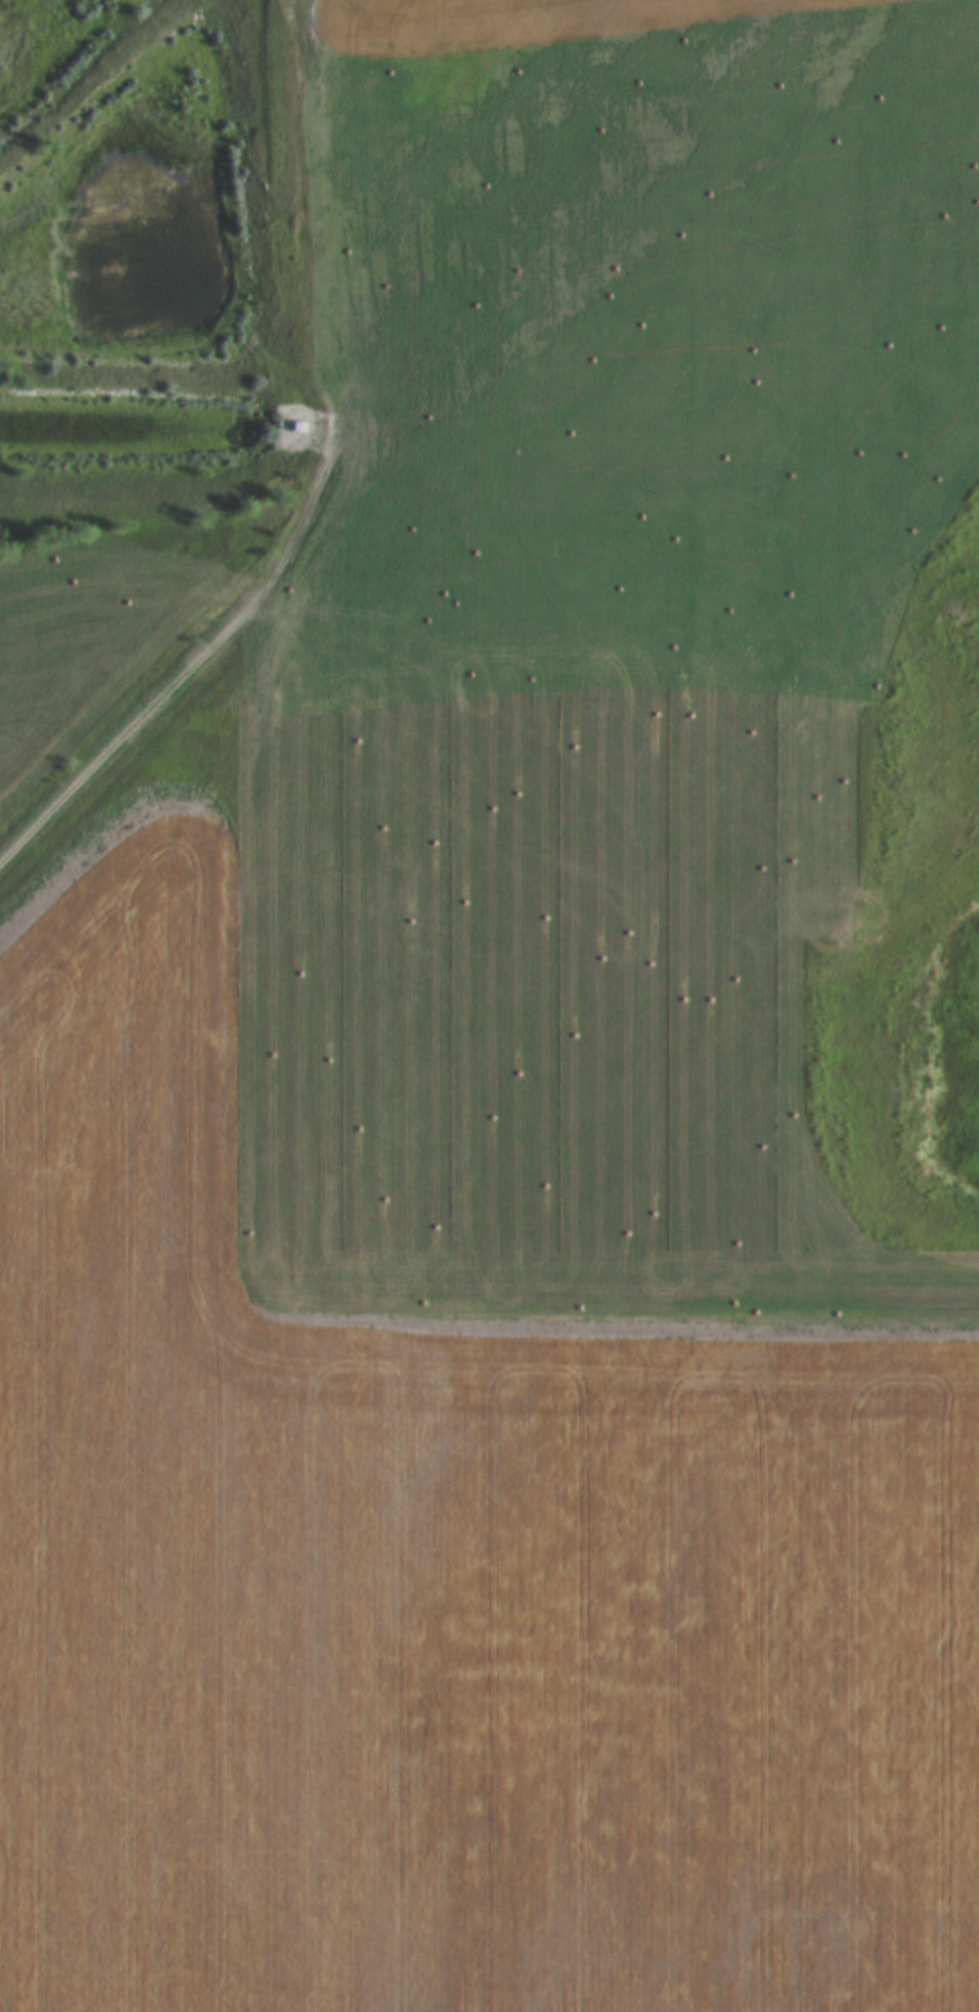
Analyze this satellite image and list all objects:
building: (298, 430)
road: (327, 490)
road: (455, 930)

